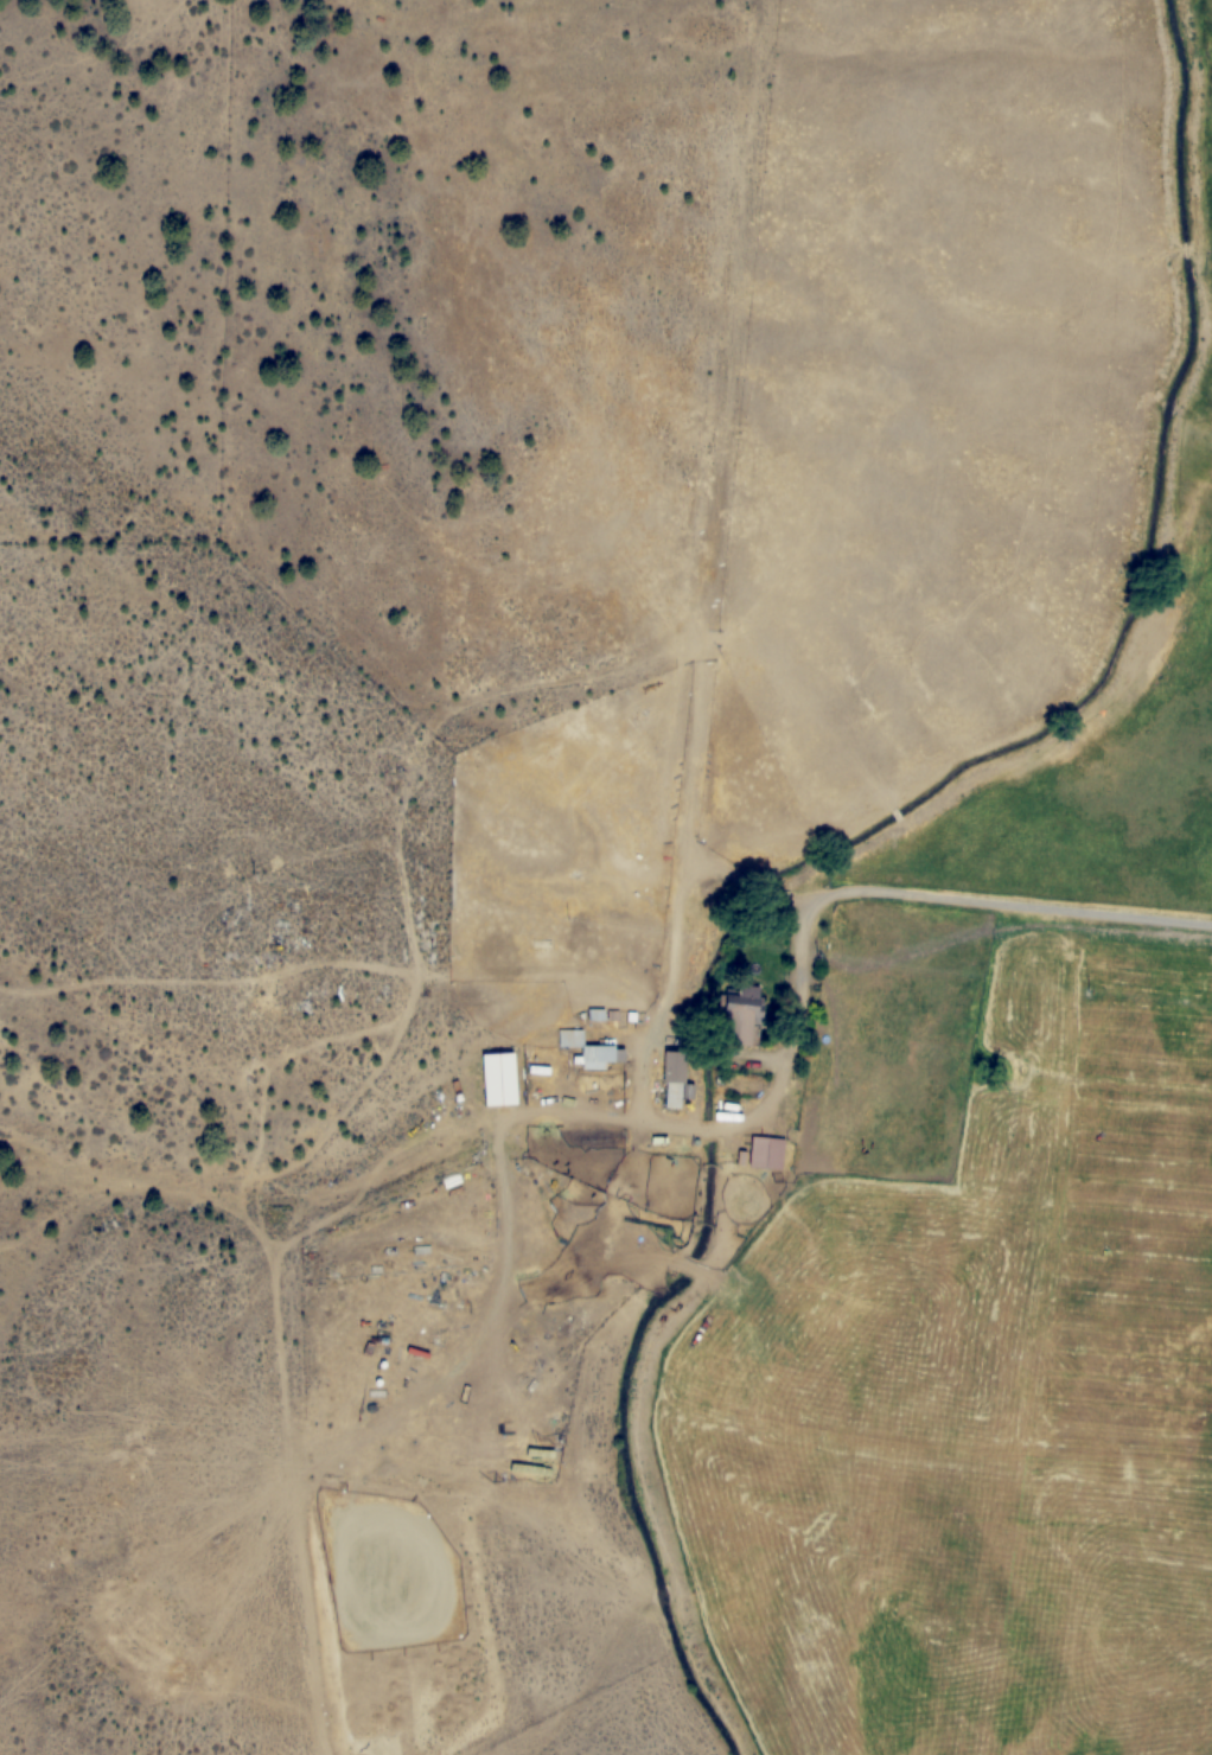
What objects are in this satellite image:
road: (943, 892)
building: (744, 1015)
building: (589, 1049)
road: (780, 1073)
building: (498, 1079)
building: (674, 1079)
building: (767, 1151)

